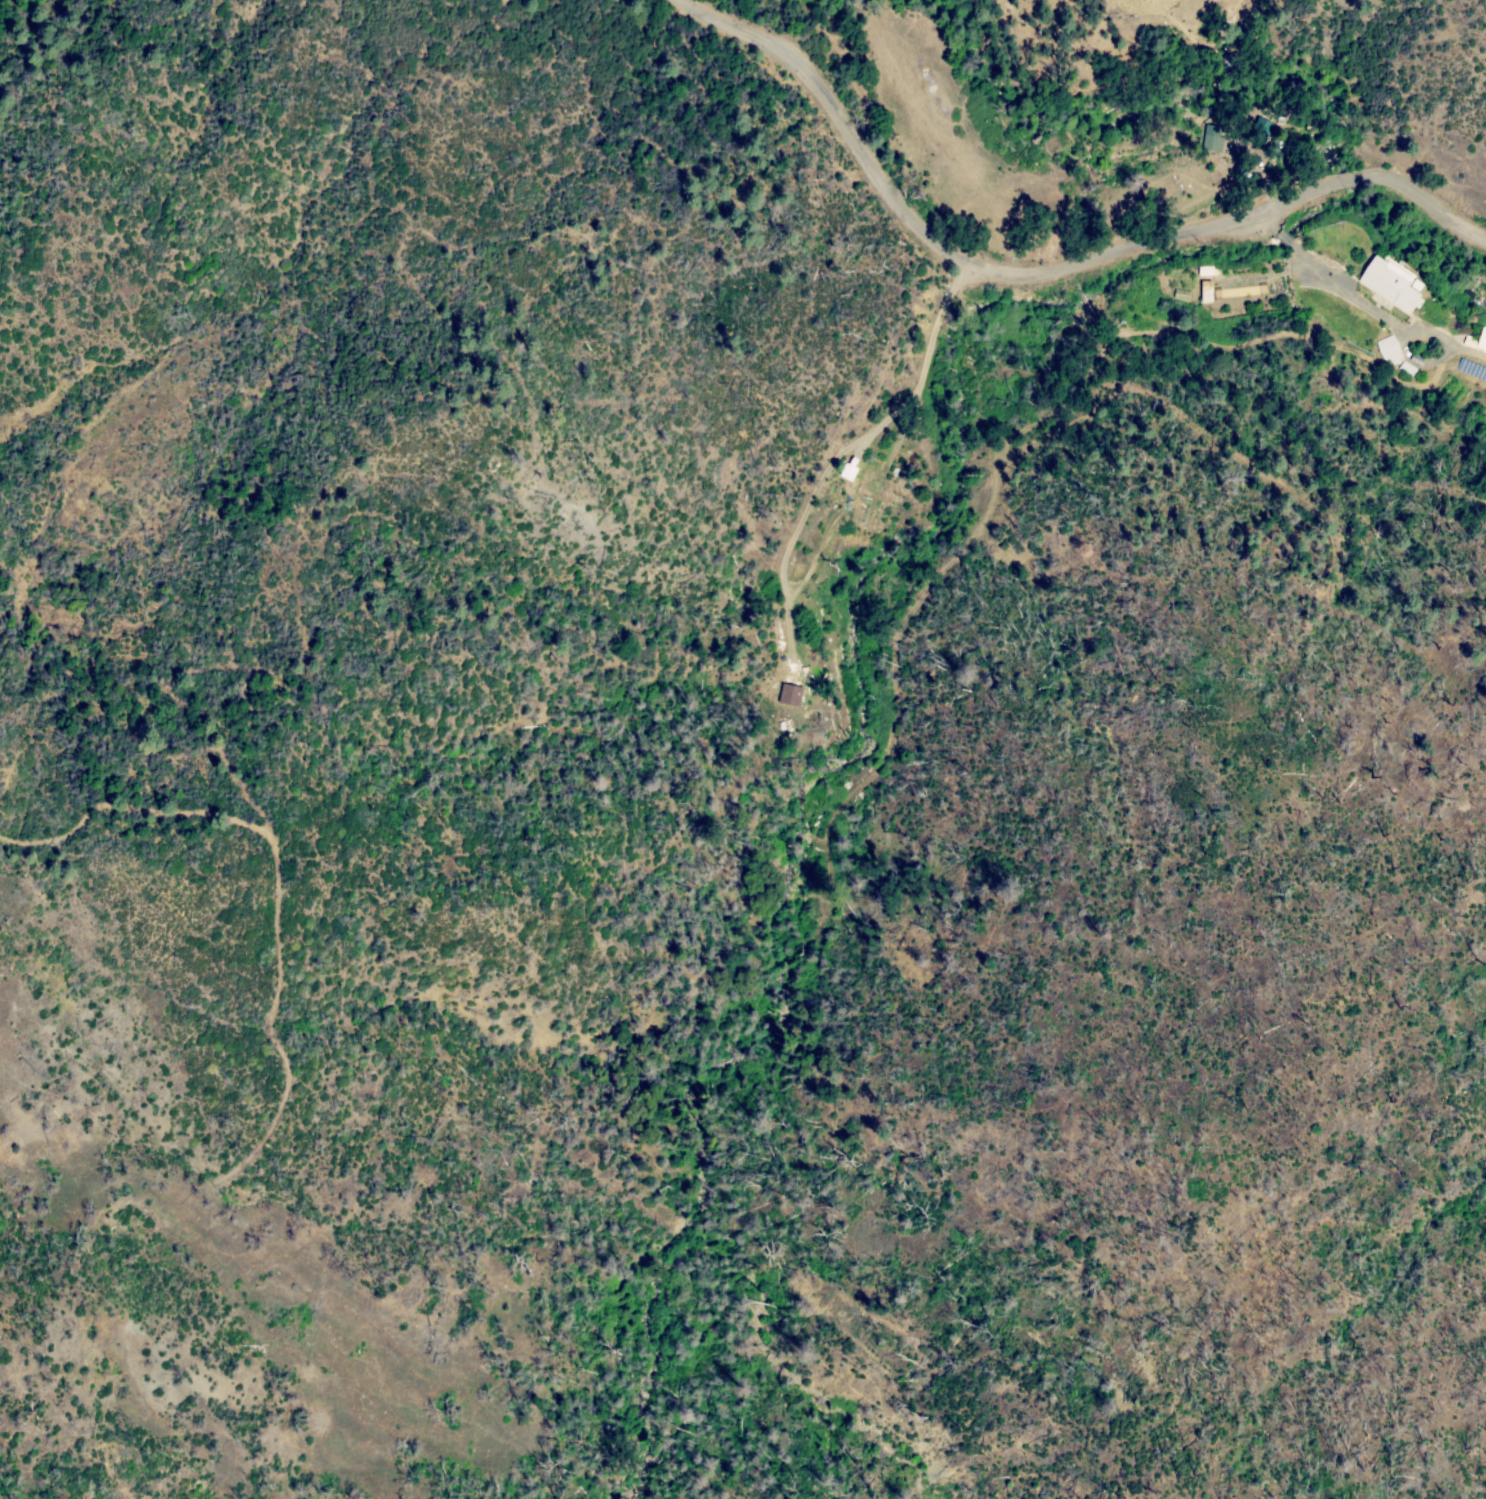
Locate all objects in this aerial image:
building: (1212, 138)
building: (1207, 271)
road: (1043, 274)
building: (1392, 285)
building: (1207, 297)
road: (1363, 304)
building: (1482, 339)
building: (1390, 353)
building: (1431, 362)
building: (1408, 369)
road: (902, 437)
road: (845, 452)
building: (850, 472)
building: (872, 477)
building: (868, 502)
building: (803, 548)
building: (786, 686)
road: (131, 807)

